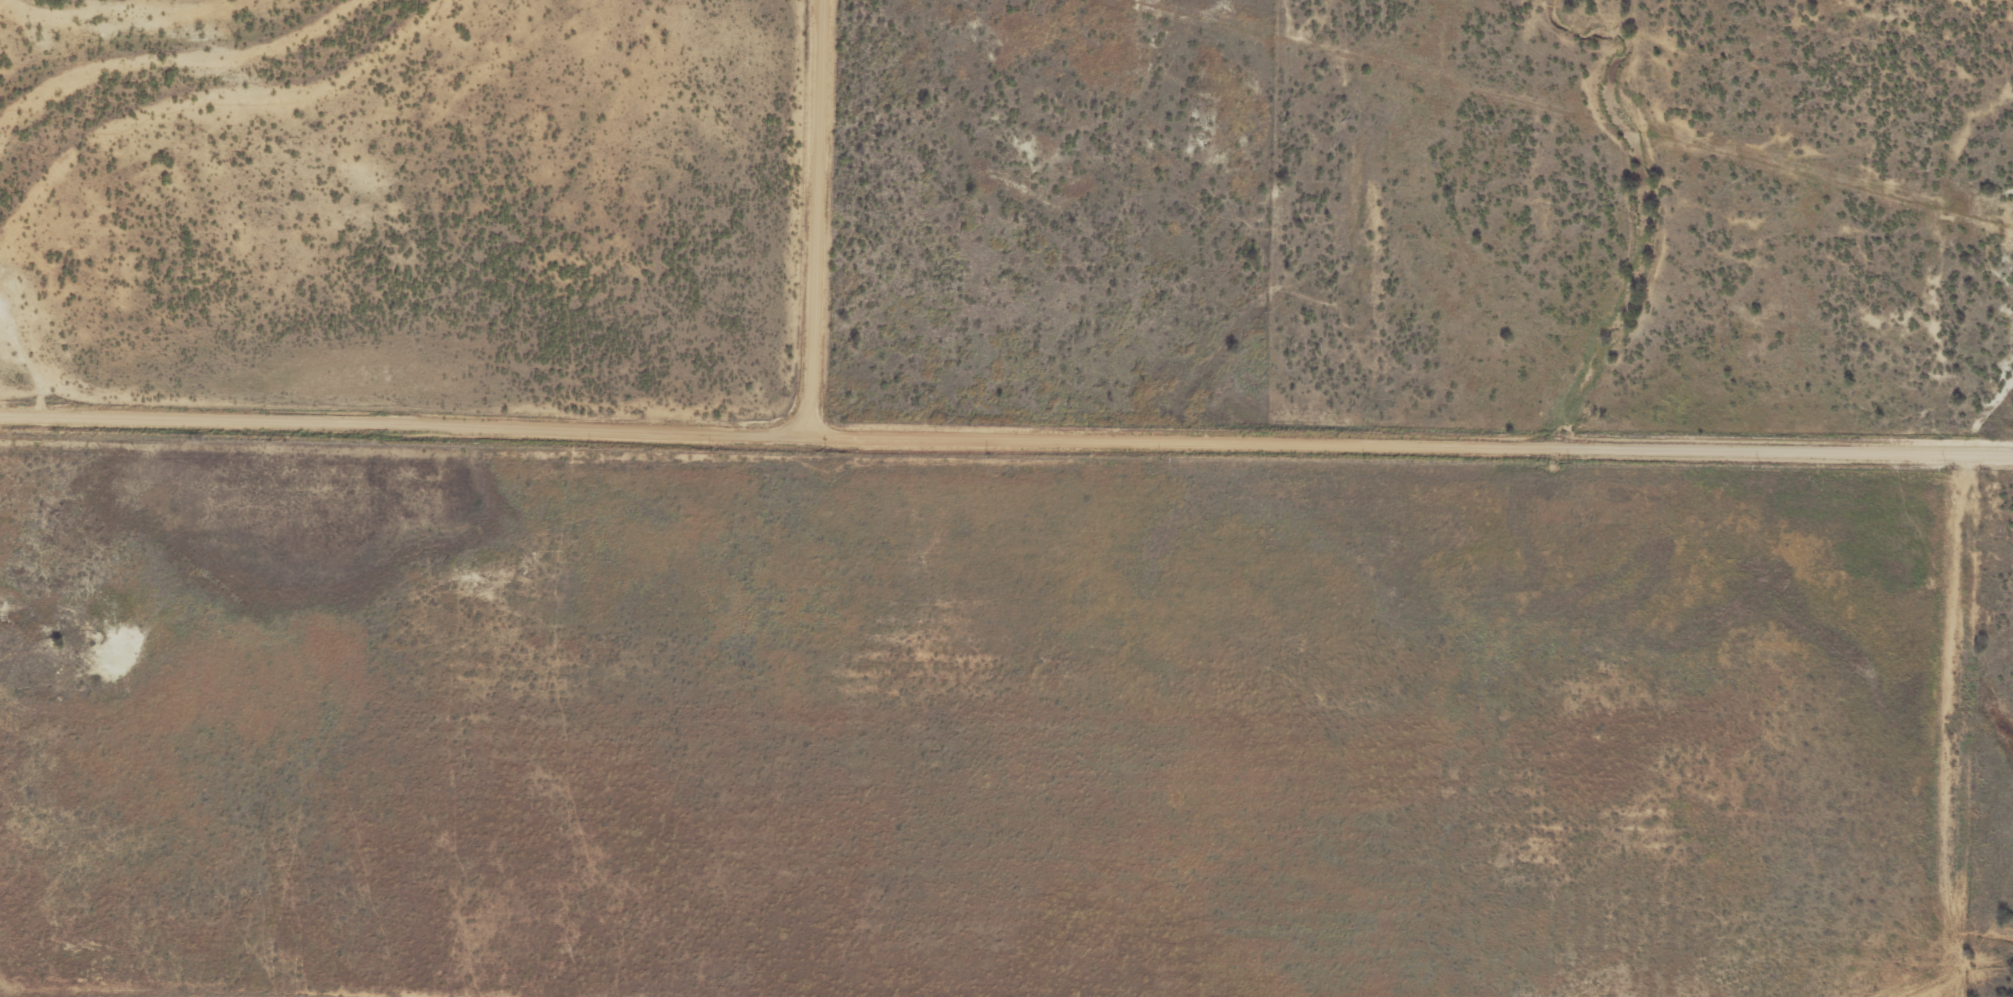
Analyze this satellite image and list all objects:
road: (33, 353)
road: (613, 430)
road: (1395, 443)

